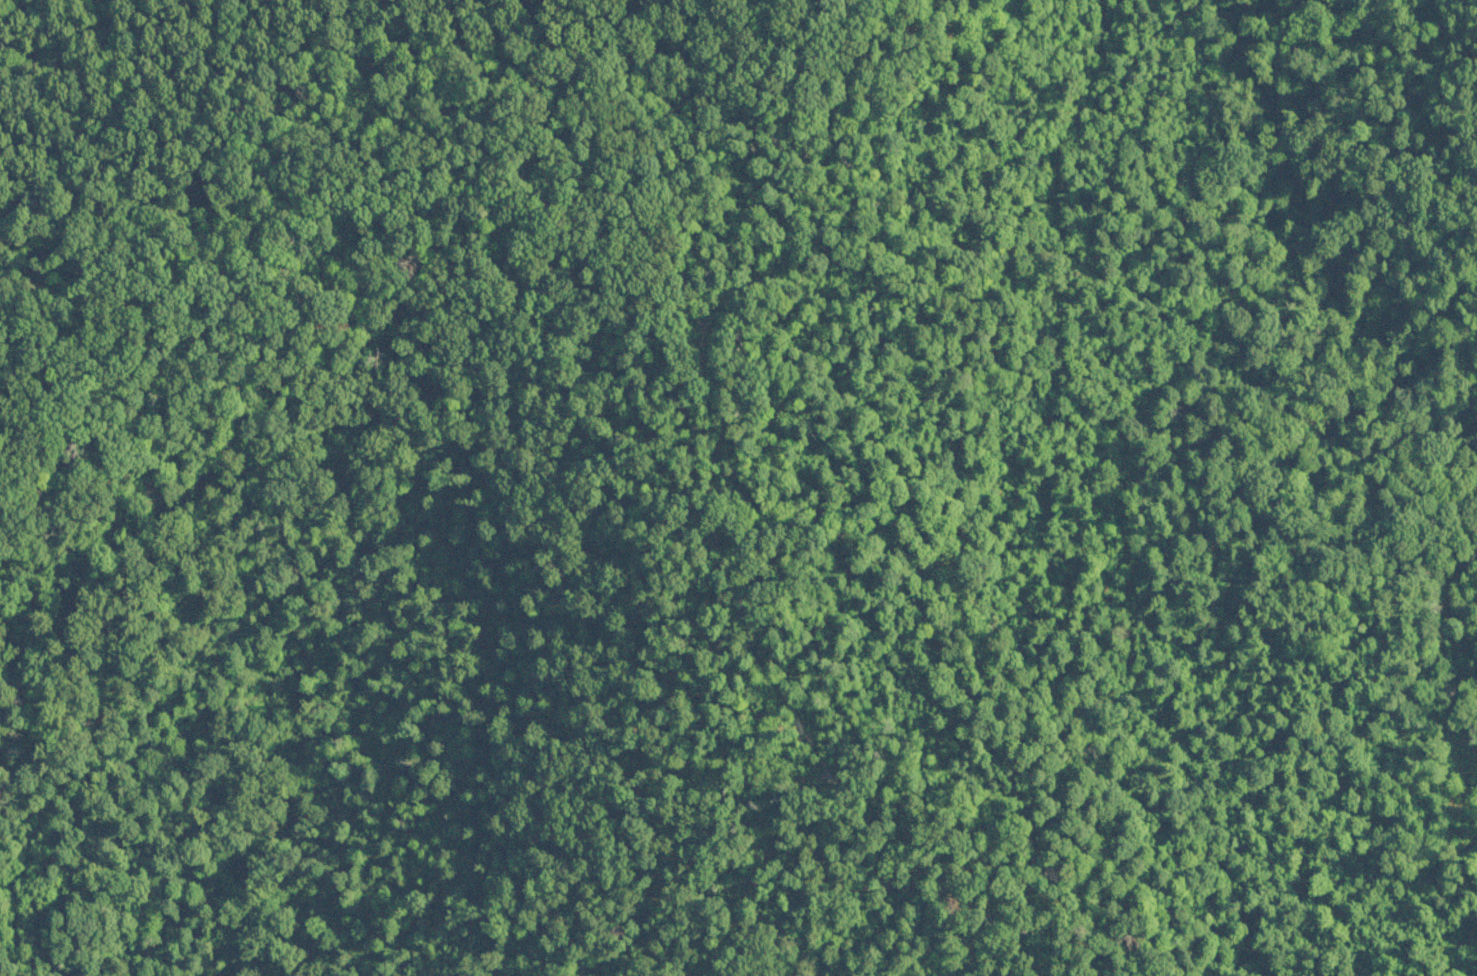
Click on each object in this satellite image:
road: (485, 249)

